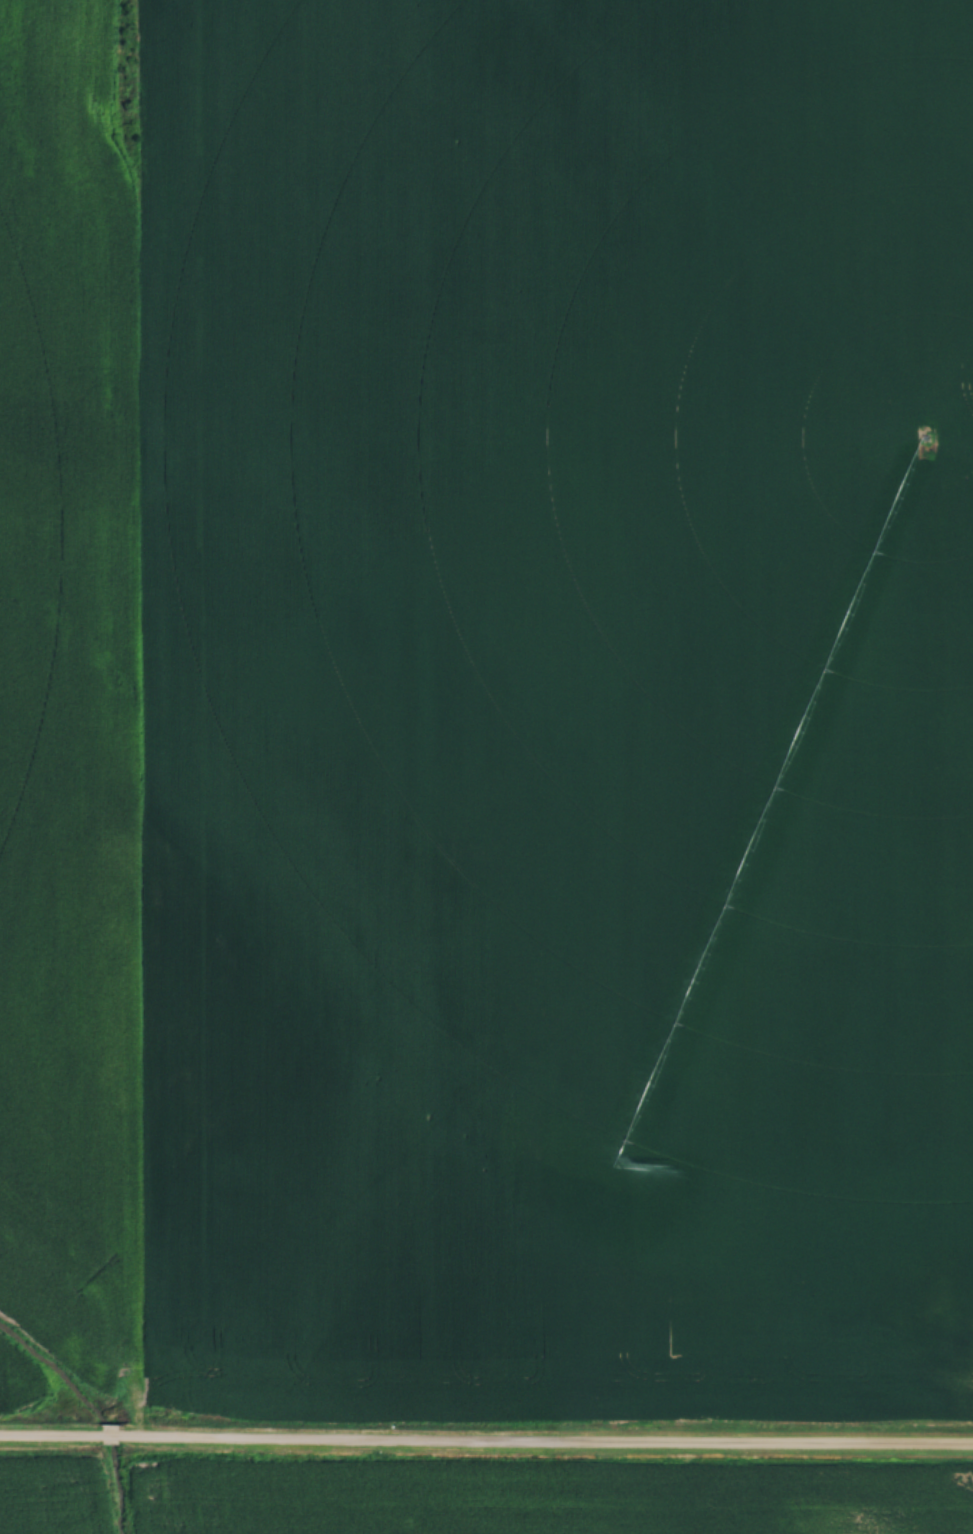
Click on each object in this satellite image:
road: (50, 1436)
road: (108, 1436)
road: (543, 1446)

